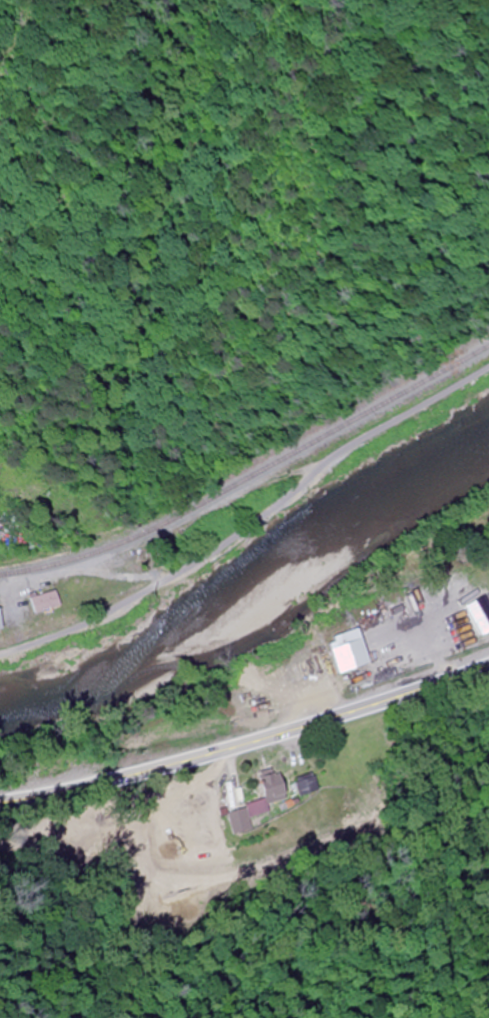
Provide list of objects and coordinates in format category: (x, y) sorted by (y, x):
railway: (250, 474)
road: (252, 523)
building: (87, 595)
building: (35, 617)
river: (261, 619)
building: (6, 634)
building: (340, 653)
building: (296, 680)
building: (259, 694)
road: (246, 742)

